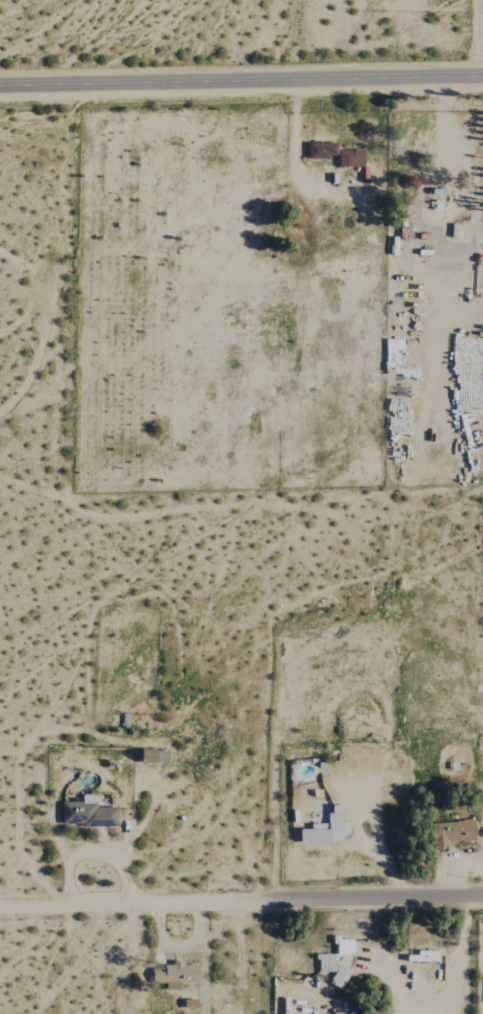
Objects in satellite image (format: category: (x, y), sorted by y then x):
road: (241, 80)
road: (378, 898)
road: (136, 903)
building: (175, 976)

